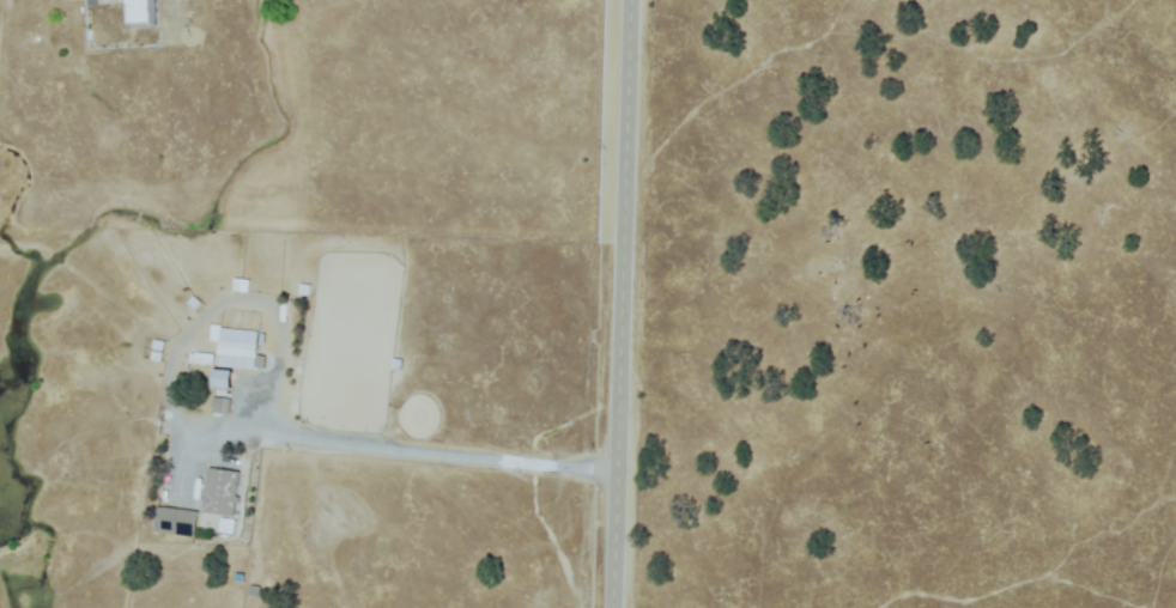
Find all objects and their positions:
building: (7, 6)
building: (139, 13)
building: (241, 287)
building: (275, 291)
building: (194, 303)
road: (619, 303)
building: (213, 334)
building: (156, 347)
building: (237, 351)
building: (156, 358)
building: (202, 358)
building: (223, 379)
building: (222, 406)
building: (157, 425)
building: (220, 493)
building: (178, 523)
building: (226, 527)

